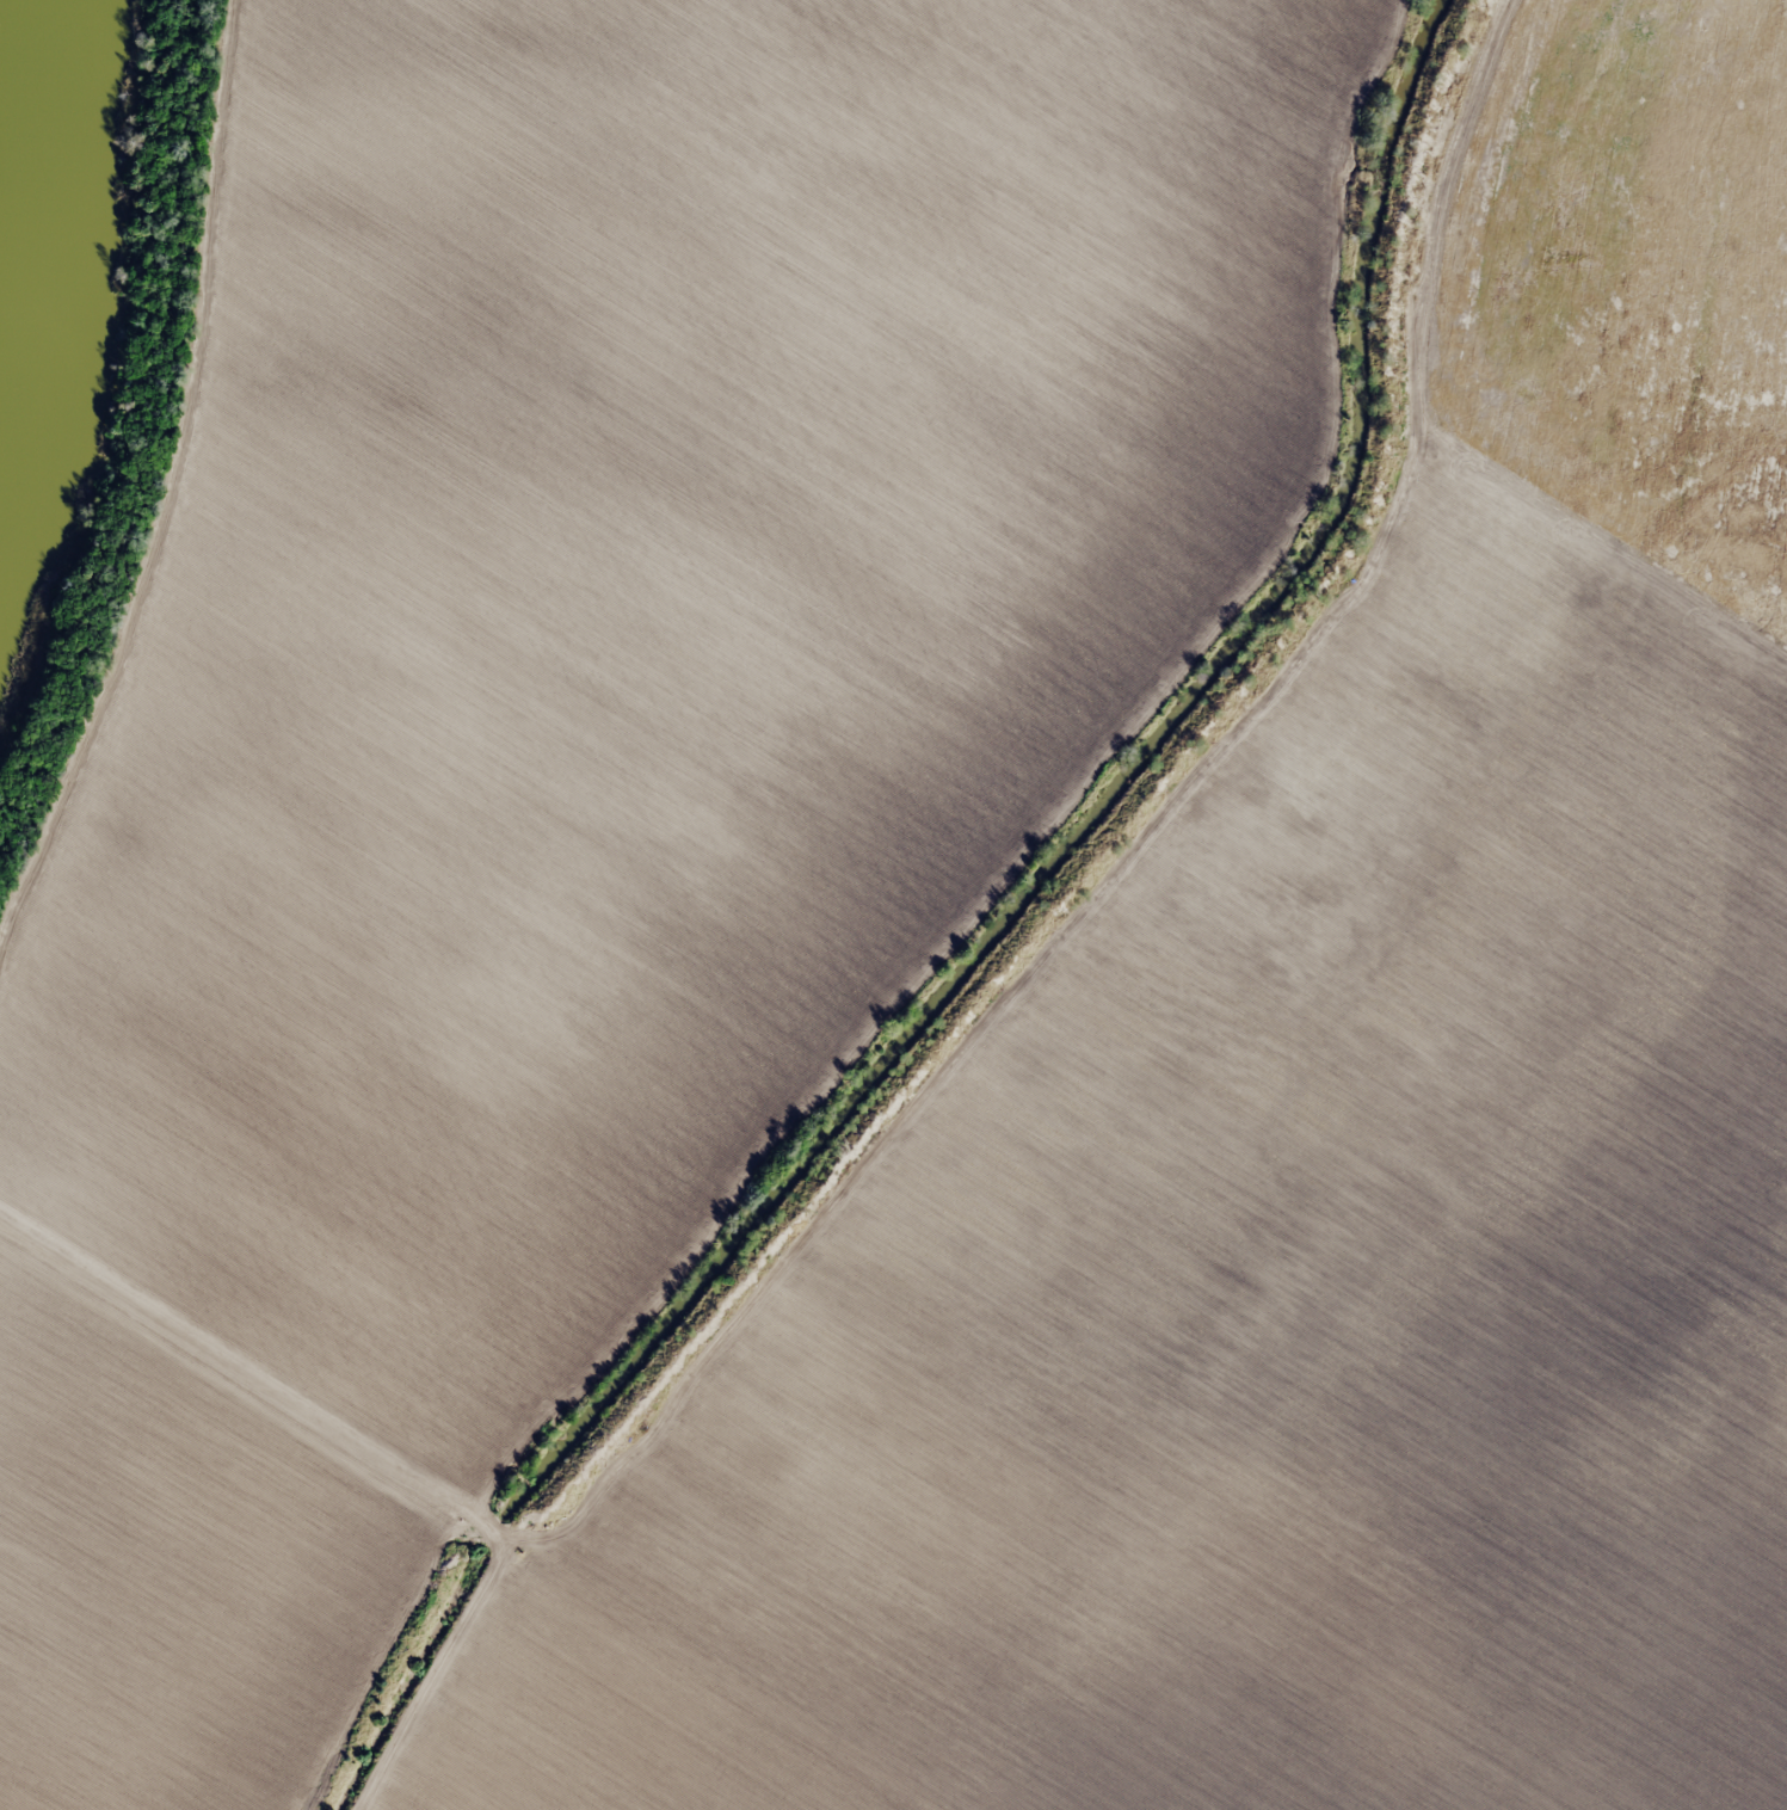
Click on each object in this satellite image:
road: (168, 485)

